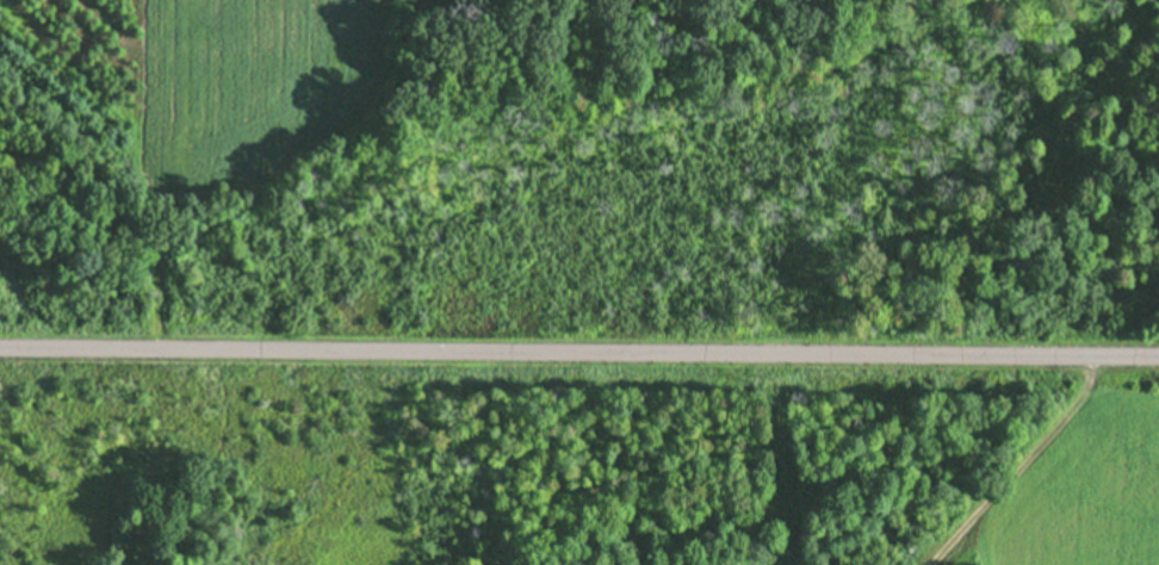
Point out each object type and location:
road: (579, 348)

